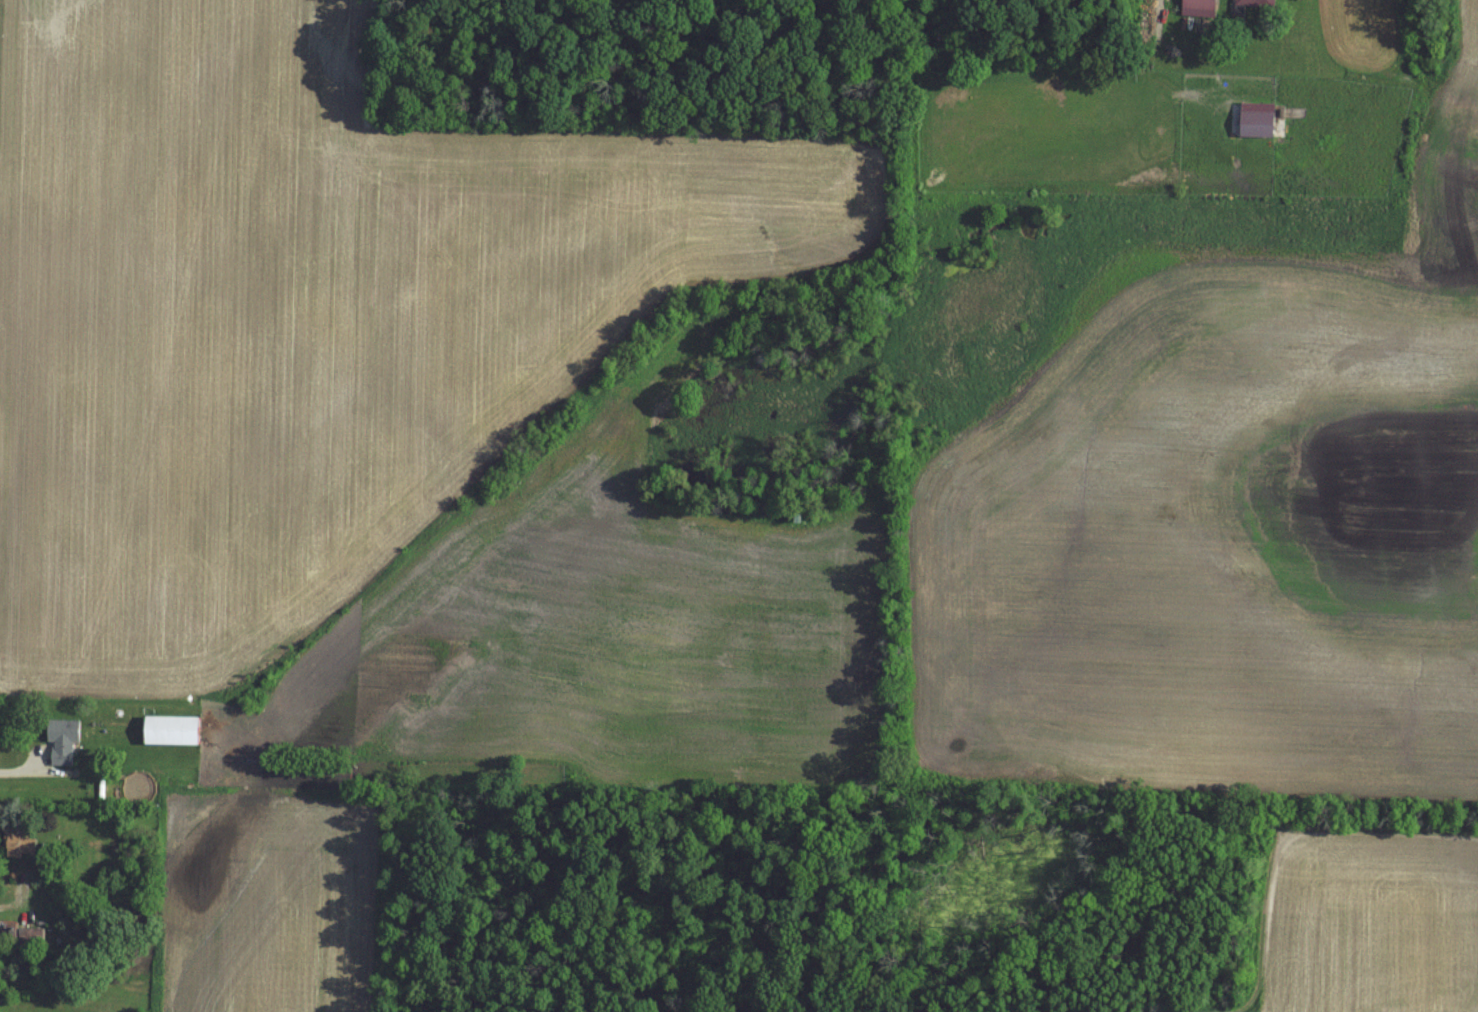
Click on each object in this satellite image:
building: (1262, 1)
building: (1250, 118)
building: (168, 729)
building: (66, 740)
road: (29, 771)

